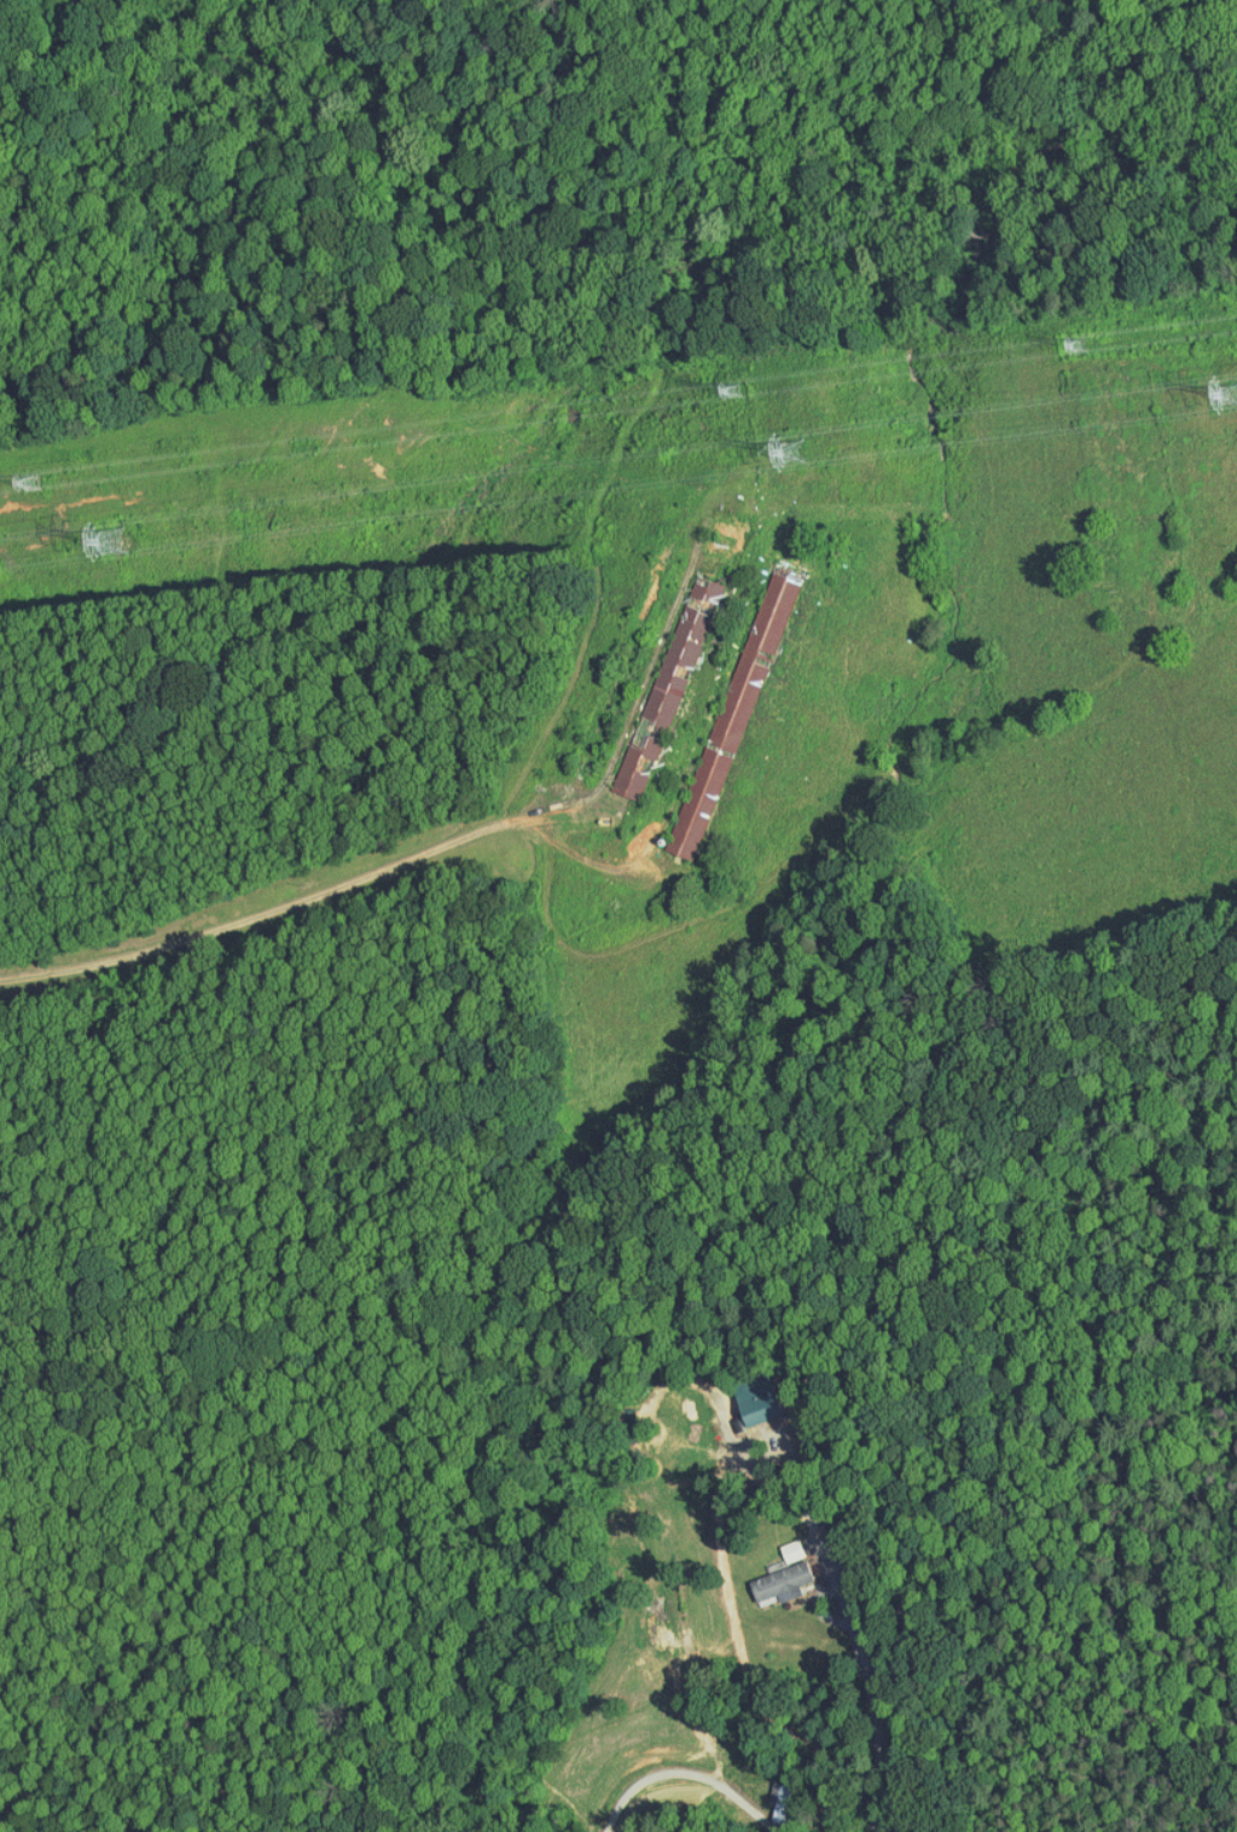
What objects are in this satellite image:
power tower: (1092, 353)
power tower: (747, 397)
power tower: (815, 455)
power tower: (45, 490)
power tower: (129, 541)
building: (668, 645)
building: (622, 760)
road: (323, 895)
building: (743, 1400)
building: (770, 1569)
road: (821, 1592)
road: (879, 1728)
road: (687, 1786)

